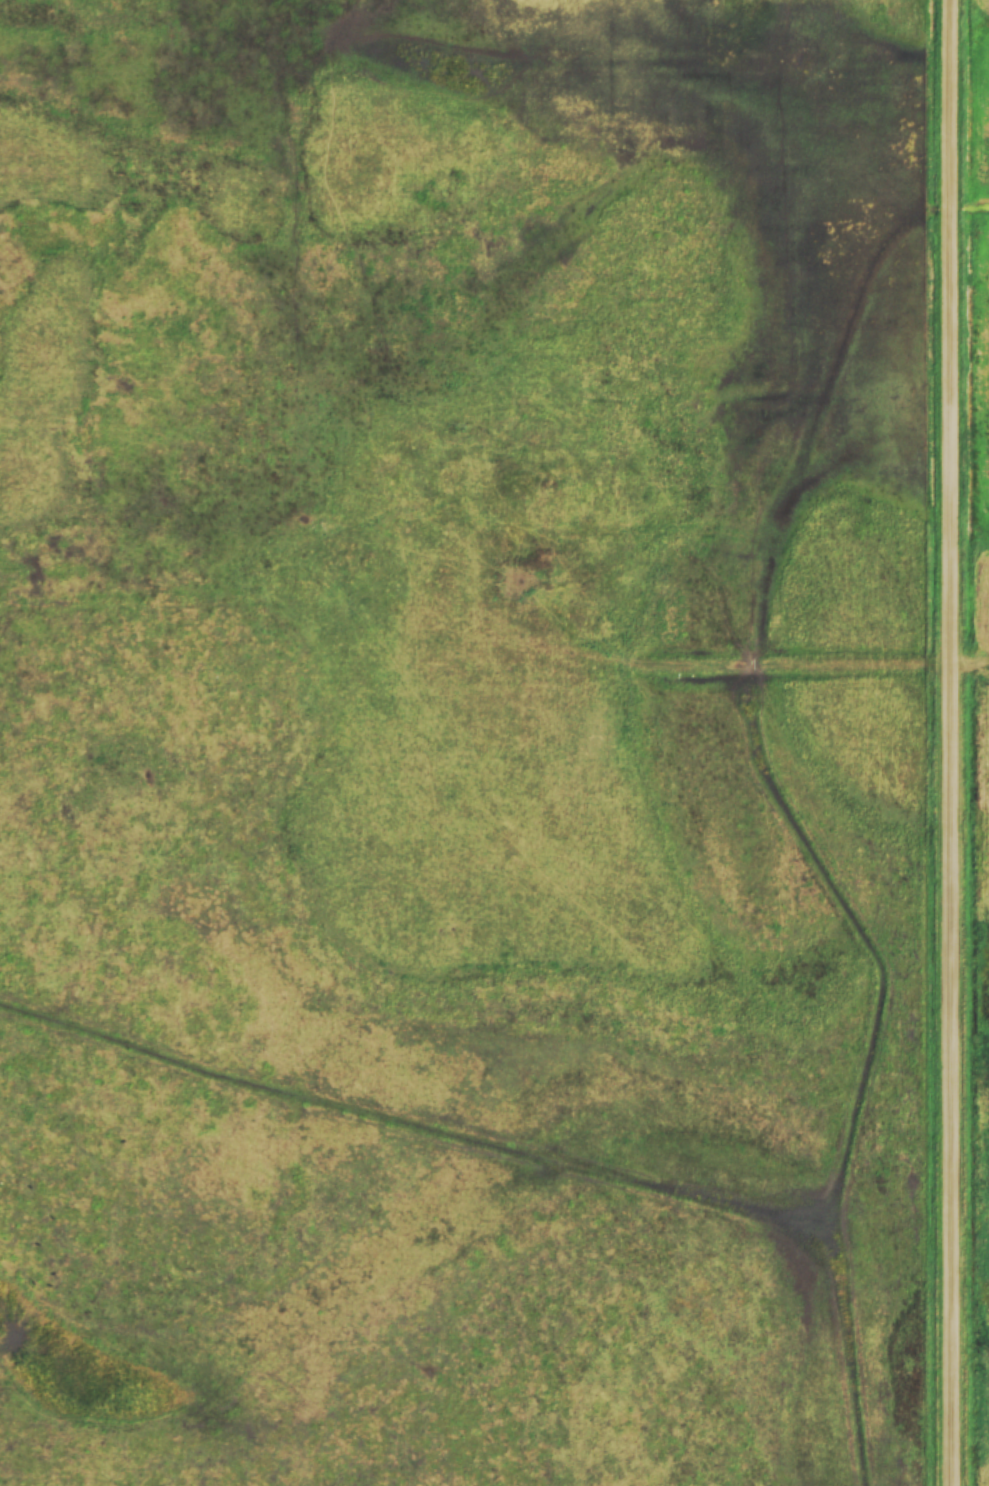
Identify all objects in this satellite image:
building: (541, 578)
road: (950, 742)

